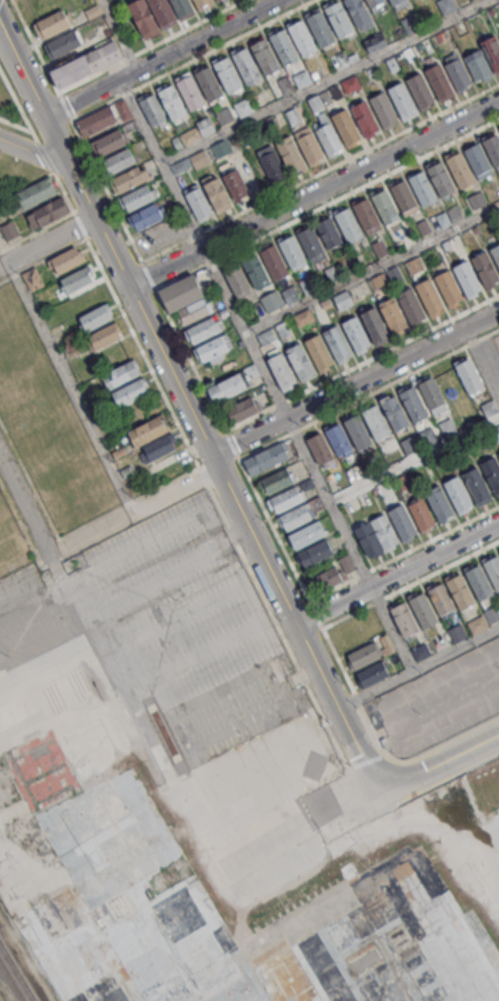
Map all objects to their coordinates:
building: (216, 0)
building: (219, 0)
building: (373, 2)
building: (395, 2)
building: (203, 3)
building: (446, 6)
building: (182, 8)
building: (92, 11)
building: (163, 12)
building: (357, 12)
building: (143, 18)
building: (338, 19)
building: (54, 22)
building: (320, 29)
road: (118, 35)
building: (439, 36)
building: (301, 38)
building: (376, 42)
building: (64, 43)
road: (150, 46)
building: (419, 46)
building: (283, 47)
building: (491, 51)
building: (264, 56)
road: (162, 58)
road: (41, 59)
building: (342, 59)
building: (86, 63)
building: (391, 64)
building: (246, 65)
building: (478, 66)
building: (227, 74)
building: (458, 74)
building: (302, 78)
road: (325, 81)
building: (439, 81)
building: (208, 82)
building: (350, 84)
building: (284, 85)
building: (420, 90)
building: (335, 91)
building: (189, 92)
road: (121, 94)
building: (402, 101)
building: (172, 102)
building: (315, 102)
road: (18, 105)
building: (243, 106)
building: (383, 108)
building: (153, 109)
building: (224, 115)
building: (292, 116)
building: (365, 117)
building: (268, 120)
building: (96, 122)
road: (16, 124)
building: (205, 125)
building: (345, 126)
building: (188, 135)
building: (328, 139)
building: (176, 142)
building: (108, 143)
building: (309, 147)
building: (221, 148)
building: (493, 149)
road: (35, 154)
road: (45, 156)
building: (290, 156)
building: (199, 159)
building: (477, 159)
building: (118, 161)
building: (270, 163)
road: (160, 164)
building: (179, 166)
building: (459, 169)
road: (320, 172)
building: (130, 178)
building: (440, 179)
building: (236, 185)
building: (423, 188)
road: (313, 193)
building: (35, 194)
building: (217, 194)
building: (137, 197)
building: (404, 197)
building: (477, 200)
building: (198, 202)
road: (326, 203)
building: (385, 206)
building: (454, 212)
building: (46, 213)
building: (366, 215)
building: (498, 215)
building: (145, 216)
building: (441, 218)
building: (492, 223)
building: (348, 225)
building: (424, 226)
building: (9, 230)
road: (36, 230)
building: (328, 232)
road: (47, 242)
building: (311, 243)
building: (445, 244)
building: (379, 247)
building: (292, 252)
building: (495, 254)
road: (42, 259)
building: (66, 260)
building: (274, 262)
building: (415, 264)
road: (371, 268)
building: (485, 268)
building: (256, 271)
building: (331, 272)
building: (394, 273)
building: (32, 278)
building: (466, 278)
building: (77, 279)
building: (237, 279)
building: (380, 281)
building: (307, 285)
building: (448, 287)
building: (181, 292)
building: (289, 293)
building: (429, 296)
building: (272, 300)
building: (342, 300)
building: (325, 302)
building: (411, 305)
building: (195, 310)
building: (393, 315)
building: (96, 316)
building: (303, 317)
road: (129, 324)
building: (375, 325)
building: (204, 328)
building: (282, 329)
road: (244, 333)
building: (355, 333)
building: (105, 335)
building: (265, 336)
building: (337, 343)
road: (182, 344)
building: (214, 348)
building: (318, 351)
park: (492, 352)
building: (300, 361)
road: (361, 361)
road: (482, 362)
building: (281, 370)
building: (251, 371)
building: (121, 373)
building: (468, 375)
road: (354, 384)
building: (226, 387)
road: (69, 388)
building: (131, 391)
road: (369, 393)
building: (432, 393)
building: (413, 403)
building: (488, 407)
road: (188, 408)
building: (243, 408)
building: (394, 412)
building: (375, 422)
road: (288, 425)
building: (446, 425)
building: (149, 430)
building: (357, 431)
building: (495, 432)
building: (428, 434)
building: (338, 439)
building: (409, 443)
road: (231, 444)
building: (318, 446)
building: (158, 447)
building: (119, 452)
building: (498, 454)
building: (265, 458)
road: (413, 458)
building: (126, 470)
building: (491, 473)
building: (277, 481)
building: (401, 481)
building: (306, 484)
building: (476, 486)
building: (457, 493)
building: (285, 498)
road: (328, 501)
building: (316, 502)
building: (438, 502)
road: (23, 508)
road: (134, 513)
building: (297, 515)
building: (420, 515)
building: (401, 522)
road: (273, 529)
building: (383, 530)
road: (70, 532)
building: (305, 535)
building: (367, 538)
building: (315, 552)
road: (403, 552)
building: (347, 564)
building: (493, 570)
road: (397, 574)
building: (325, 579)
building: (478, 582)
road: (410, 584)
building: (460, 591)
building: (440, 598)
building: (422, 610)
building: (492, 613)
road: (388, 619)
building: (404, 619)
road: (274, 622)
building: (477, 624)
building: (456, 632)
road: (454, 647)
building: (420, 651)
building: (363, 655)
building: (372, 673)
road: (373, 687)
road: (353, 693)
road: (457, 737)
road: (443, 761)
road: (429, 784)
road: (355, 785)
road: (309, 815)
building: (398, 938)
railway: (17, 971)
railway: (12, 979)

